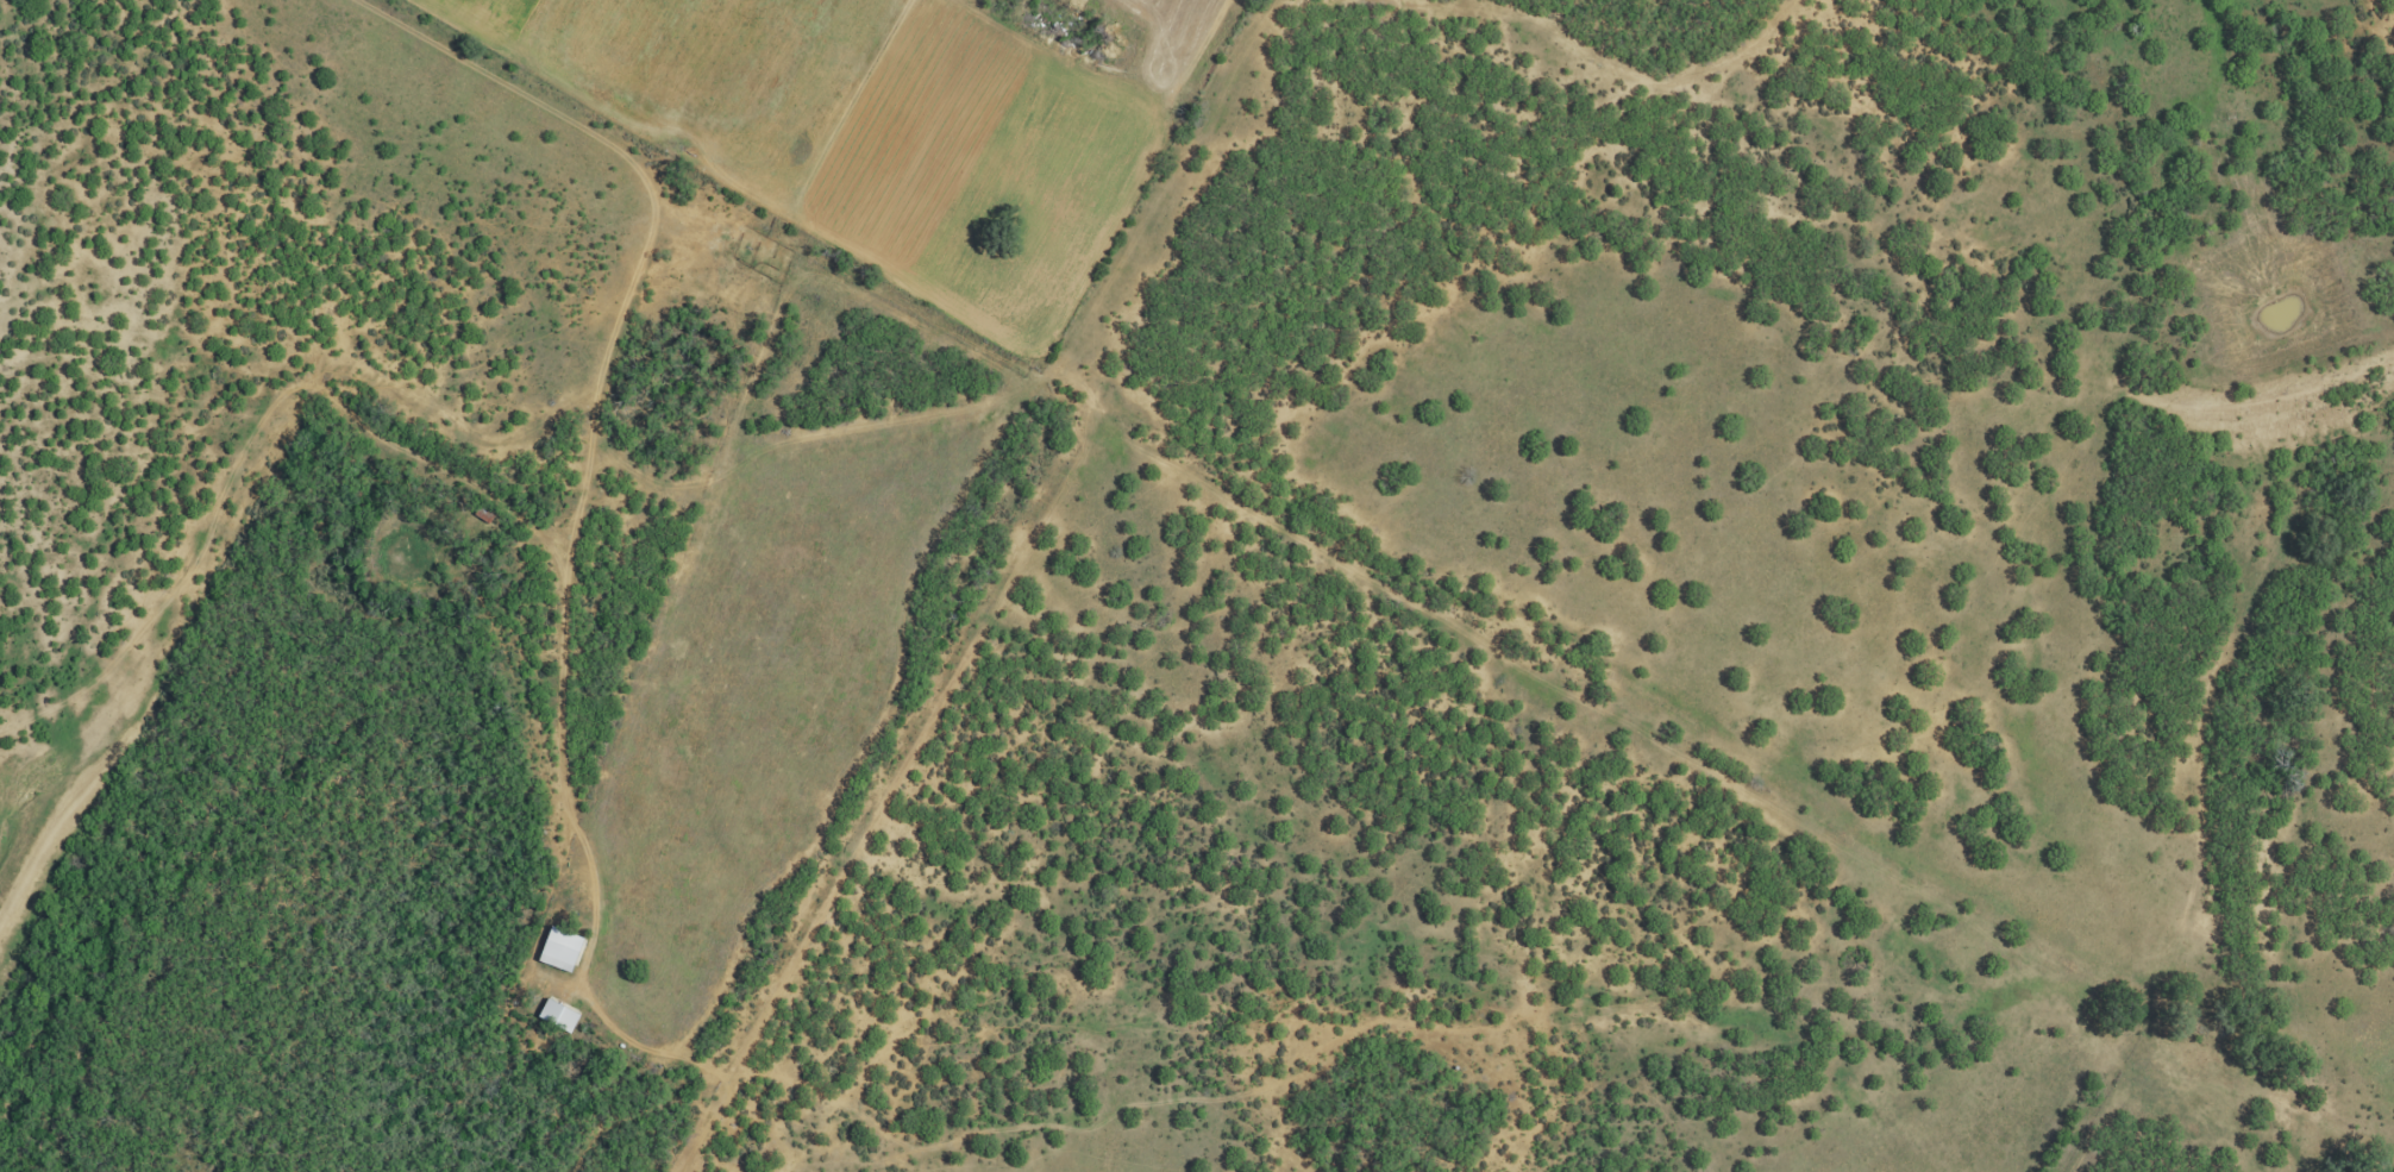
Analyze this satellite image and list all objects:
road: (618, 149)
road: (560, 772)
building: (557, 947)
building: (554, 1014)

